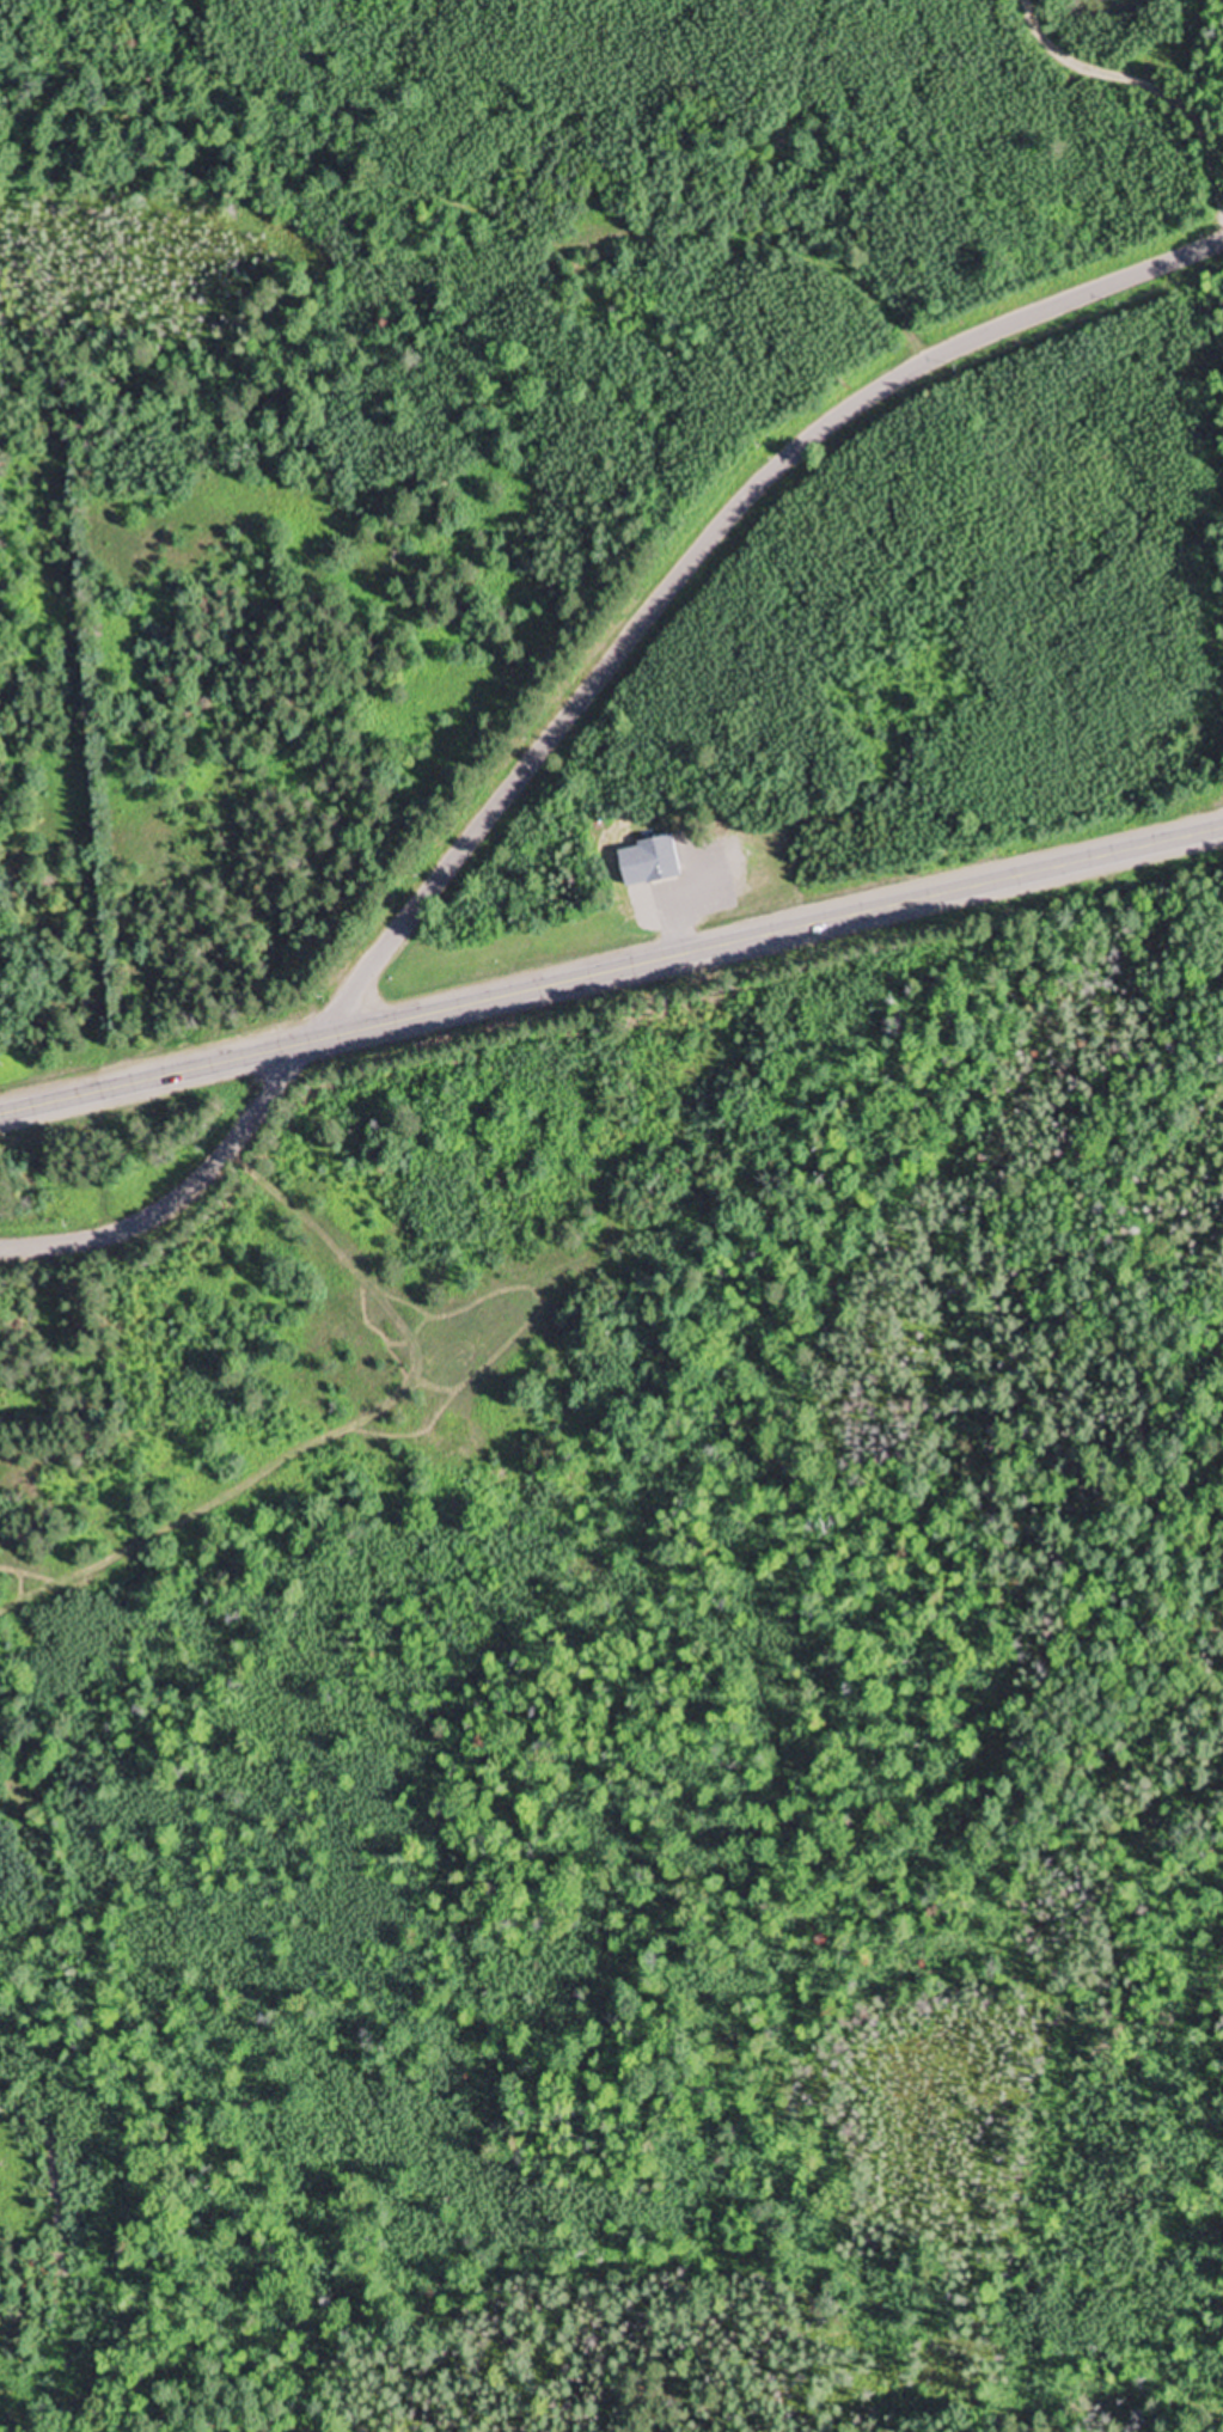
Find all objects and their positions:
road: (797, 2)
road: (1150, 102)
road: (575, 710)
building: (656, 861)
road: (611, 972)

